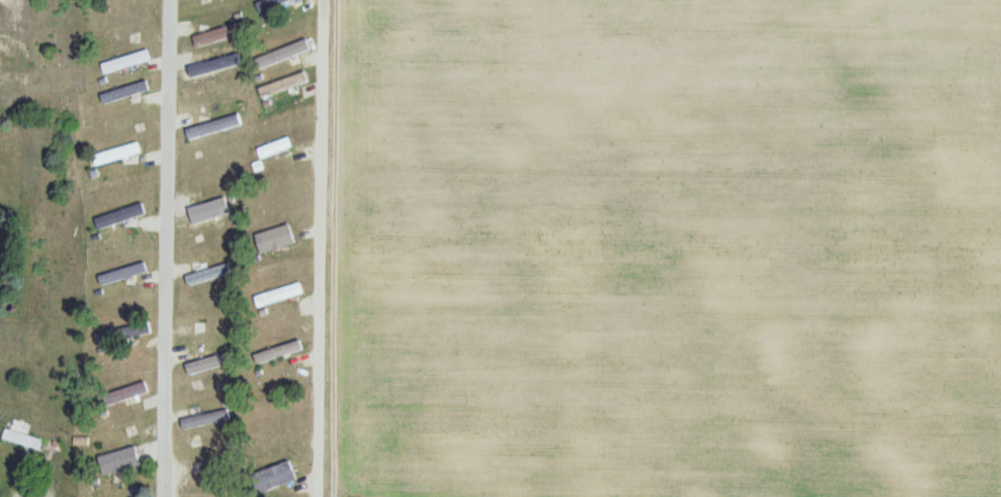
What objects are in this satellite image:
building: (266, 4)
building: (218, 34)
building: (285, 52)
building: (125, 92)
building: (212, 126)
building: (274, 146)
building: (115, 154)
building: (120, 215)
building: (275, 238)
road: (165, 248)
road: (324, 248)
building: (206, 274)
building: (208, 334)
building: (107, 337)
building: (283, 350)
building: (211, 363)
building: (20, 438)
building: (121, 462)

